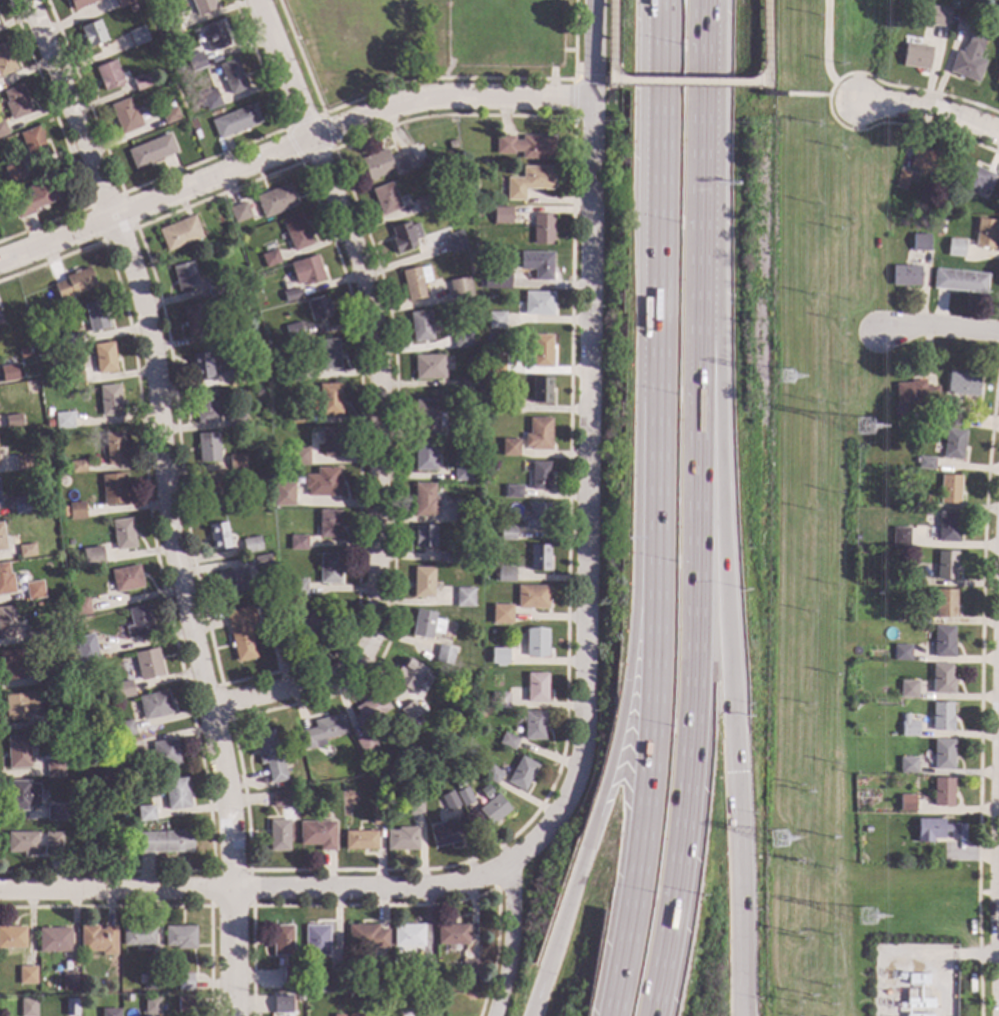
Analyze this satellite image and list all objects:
building: (79, 3)
building: (122, 3)
building: (202, 5)
building: (131, 7)
building: (938, 16)
building: (982, 18)
building: (170, 26)
building: (92, 33)
building: (137, 35)
building: (215, 35)
road: (573, 39)
building: (908, 39)
road: (610, 40)
street lamp: (678, 40)
road: (763, 41)
road: (825, 42)
building: (915, 56)
building: (968, 59)
building: (5, 60)
building: (195, 61)
building: (177, 70)
building: (997, 71)
building: (108, 75)
building: (232, 76)
road: (573, 79)
road: (590, 79)
road: (611, 79)
building: (140, 81)
road: (686, 82)
road: (607, 85)
road: (764, 88)
road: (806, 94)
building: (209, 99)
road: (573, 100)
road: (828, 100)
building: (15, 101)
road: (856, 101)
road: (700, 103)
building: (161, 107)
road: (930, 109)
building: (169, 115)
building: (125, 116)
building: (235, 121)
building: (2, 128)
building: (196, 134)
building: (33, 143)
building: (452, 144)
building: (526, 146)
road: (290, 149)
building: (151, 150)
building: (404, 160)
building: (926, 160)
building: (376, 164)
building: (14, 171)
building: (972, 177)
building: (901, 180)
building: (530, 181)
building: (37, 196)
building: (385, 198)
building: (275, 200)
building: (425, 203)
building: (238, 212)
building: (502, 215)
street lamp: (676, 215)
building: (941, 222)
building: (542, 229)
building: (296, 231)
building: (941, 231)
building: (179, 233)
building: (985, 233)
building: (404, 236)
building: (455, 241)
building: (919, 242)
building: (955, 247)
building: (269, 258)
building: (536, 263)
building: (306, 270)
building: (905, 275)
building: (184, 276)
building: (495, 279)
building: (483, 280)
road: (656, 280)
building: (959, 280)
building: (415, 282)
building: (74, 283)
building: (214, 287)
building: (460, 288)
building: (290, 294)
building: (538, 303)
building: (318, 307)
building: (95, 315)
building: (0, 319)
building: (193, 319)
building: (496, 320)
building: (420, 325)
road: (940, 329)
building: (293, 331)
building: (224, 334)
building: (70, 339)
building: (462, 340)
building: (541, 350)
building: (22, 352)
building: (328, 353)
building: (104, 357)
building: (494, 363)
building: (204, 365)
building: (428, 366)
building: (8, 372)
building: (304, 375)
building: (74, 376)
building: (236, 376)
street lamp: (674, 383)
building: (962, 384)
power tower: (784, 386)
building: (468, 388)
building: (540, 390)
building: (259, 392)
building: (915, 393)
road: (378, 398)
building: (109, 399)
building: (329, 399)
building: (205, 406)
building: (509, 406)
building: (298, 415)
building: (428, 415)
building: (958, 418)
building: (63, 419)
building: (12, 420)
building: (236, 421)
building: (49, 422)
building: (464, 432)
building: (538, 433)
building: (938, 435)
power tower: (864, 436)
building: (330, 441)
building: (953, 443)
building: (207, 446)
building: (509, 447)
building: (113, 448)
building: (425, 455)
building: (299, 456)
building: (236, 461)
building: (22, 462)
building: (922, 462)
building: (62, 465)
building: (77, 466)
building: (462, 471)
building: (539, 475)
building: (323, 482)
building: (113, 488)
building: (949, 488)
building: (212, 489)
road: (719, 489)
building: (512, 491)
building: (283, 493)
road: (167, 498)
building: (424, 499)
building: (920, 501)
building: (0, 503)
building: (238, 504)
building: (21, 505)
building: (0, 506)
building: (76, 510)
building: (63, 511)
building: (462, 512)
building: (537, 515)
road: (588, 521)
building: (328, 523)
building: (947, 527)
building: (507, 533)
building: (123, 534)
building: (218, 536)
building: (424, 536)
building: (853, 536)
building: (899, 536)
building: (2, 538)
building: (68, 542)
building: (298, 542)
building: (251, 544)
street lamp: (672, 548)
building: (25, 550)
building: (862, 550)
building: (448, 557)
building: (538, 557)
building: (95, 558)
building: (262, 560)
building: (945, 564)
building: (911, 566)
building: (329, 568)
building: (505, 573)
building: (910, 577)
building: (126, 578)
building: (5, 579)
building: (233, 580)
building: (423, 582)
building: (872, 586)
building: (297, 587)
building: (34, 590)
building: (532, 596)
building: (464, 597)
building: (945, 603)
building: (79, 605)
building: (501, 613)
road: (692, 613)
building: (904, 614)
building: (7, 621)
building: (139, 621)
building: (430, 624)
building: (298, 629)
building: (240, 631)
building: (33, 636)
building: (943, 641)
building: (536, 642)
building: (85, 647)
building: (901, 652)
building: (444, 654)
building: (498, 656)
building: (11, 663)
building: (148, 663)
building: (63, 672)
building: (408, 675)
building: (941, 678)
building: (536, 687)
building: (908, 688)
building: (124, 689)
building: (499, 700)
building: (154, 704)
building: (19, 705)
building: (370, 709)
building: (410, 710)
building: (941, 716)
street lamp: (667, 718)
building: (68, 720)
building: (533, 725)
building: (908, 726)
building: (124, 728)
building: (322, 731)
building: (507, 740)
building: (366, 744)
building: (18, 751)
building: (165, 753)
building: (942, 754)
building: (269, 755)
building: (103, 762)
building: (907, 764)
building: (886, 767)
building: (54, 768)
traffic signals: (732, 772)
building: (521, 773)
building: (492, 774)
building: (458, 783)
road: (600, 789)
road: (644, 789)
building: (942, 792)
building: (176, 793)
building: (23, 795)
building: (464, 796)
building: (280, 799)
building: (448, 800)
building: (906, 802)
building: (414, 805)
building: (493, 809)
building: (55, 811)
building: (145, 812)
building: (377, 815)
building: (123, 818)
building: (937, 830)
building: (442, 832)
building: (317, 834)
building: (278, 836)
building: (401, 838)
building: (359, 839)
building: (53, 840)
building: (163, 841)
building: (22, 842)
power tower: (781, 852)
street lamp: (650, 883)
road: (256, 888)
road: (736, 893)
power tower: (871, 926)
building: (451, 933)
building: (138, 935)
building: (408, 935)
building: (366, 936)
building: (12, 937)
building: (179, 937)
building: (54, 939)
building: (98, 939)
building: (282, 940)
building: (316, 940)
building: (469, 968)
building: (425, 969)
building: (290, 974)
building: (27, 975)
building: (336, 977)
building: (82, 978)
building: (68, 980)
power substation: (914, 980)
building: (152, 981)
building: (184, 981)
building: (410, 984)
building: (438, 987)
building: (900, 996)
building: (299, 997)
building: (184, 1003)
building: (282, 1004)
building: (151, 1005)
building: (70, 1006)
building: (27, 1007)
building: (109, 1012)
building: (354, 1014)
building: (426, 1014)
building: (337, 1015)

